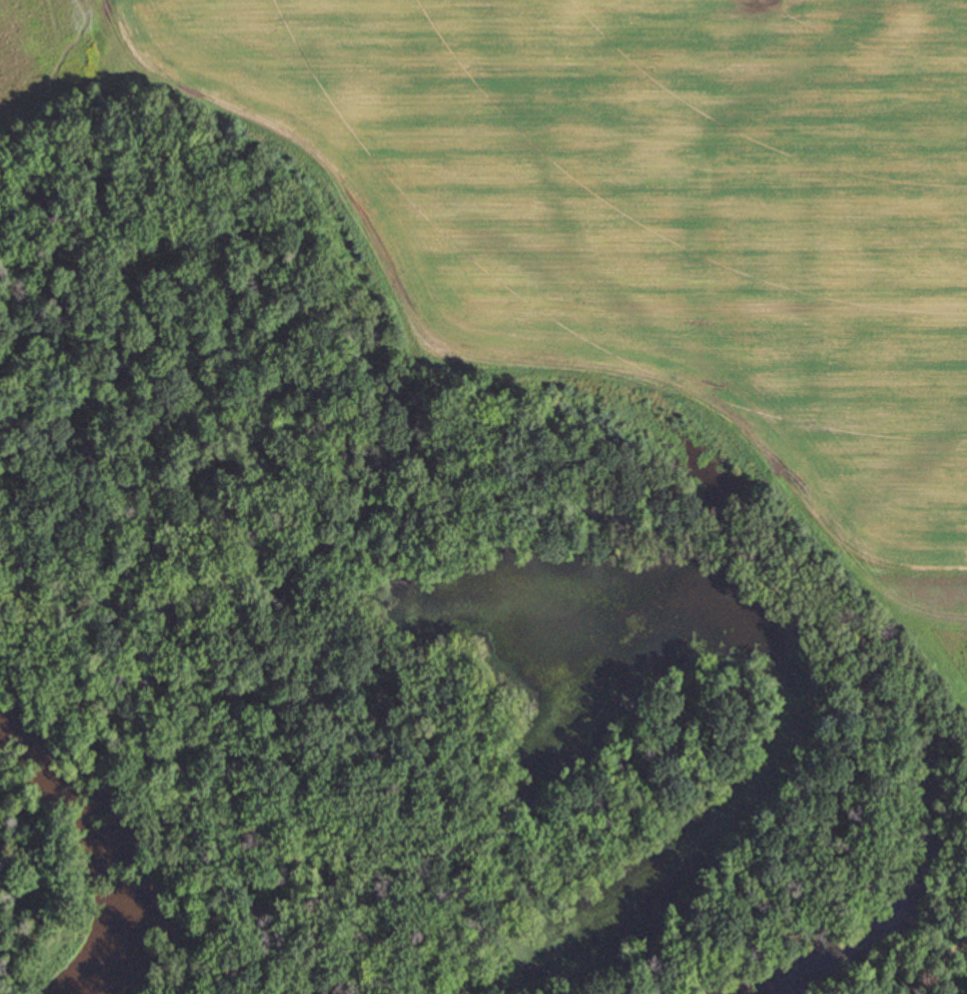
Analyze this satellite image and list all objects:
crop: (634, 220)

